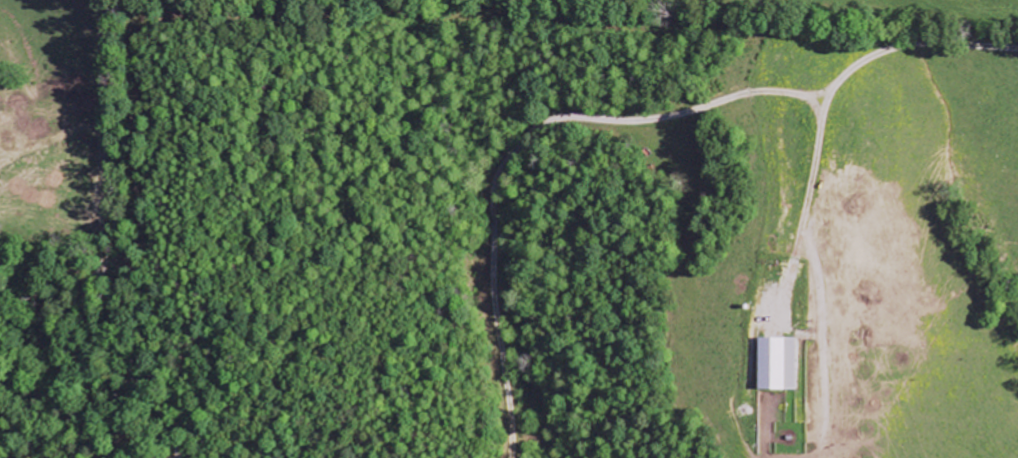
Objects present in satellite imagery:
building: (775, 365)

